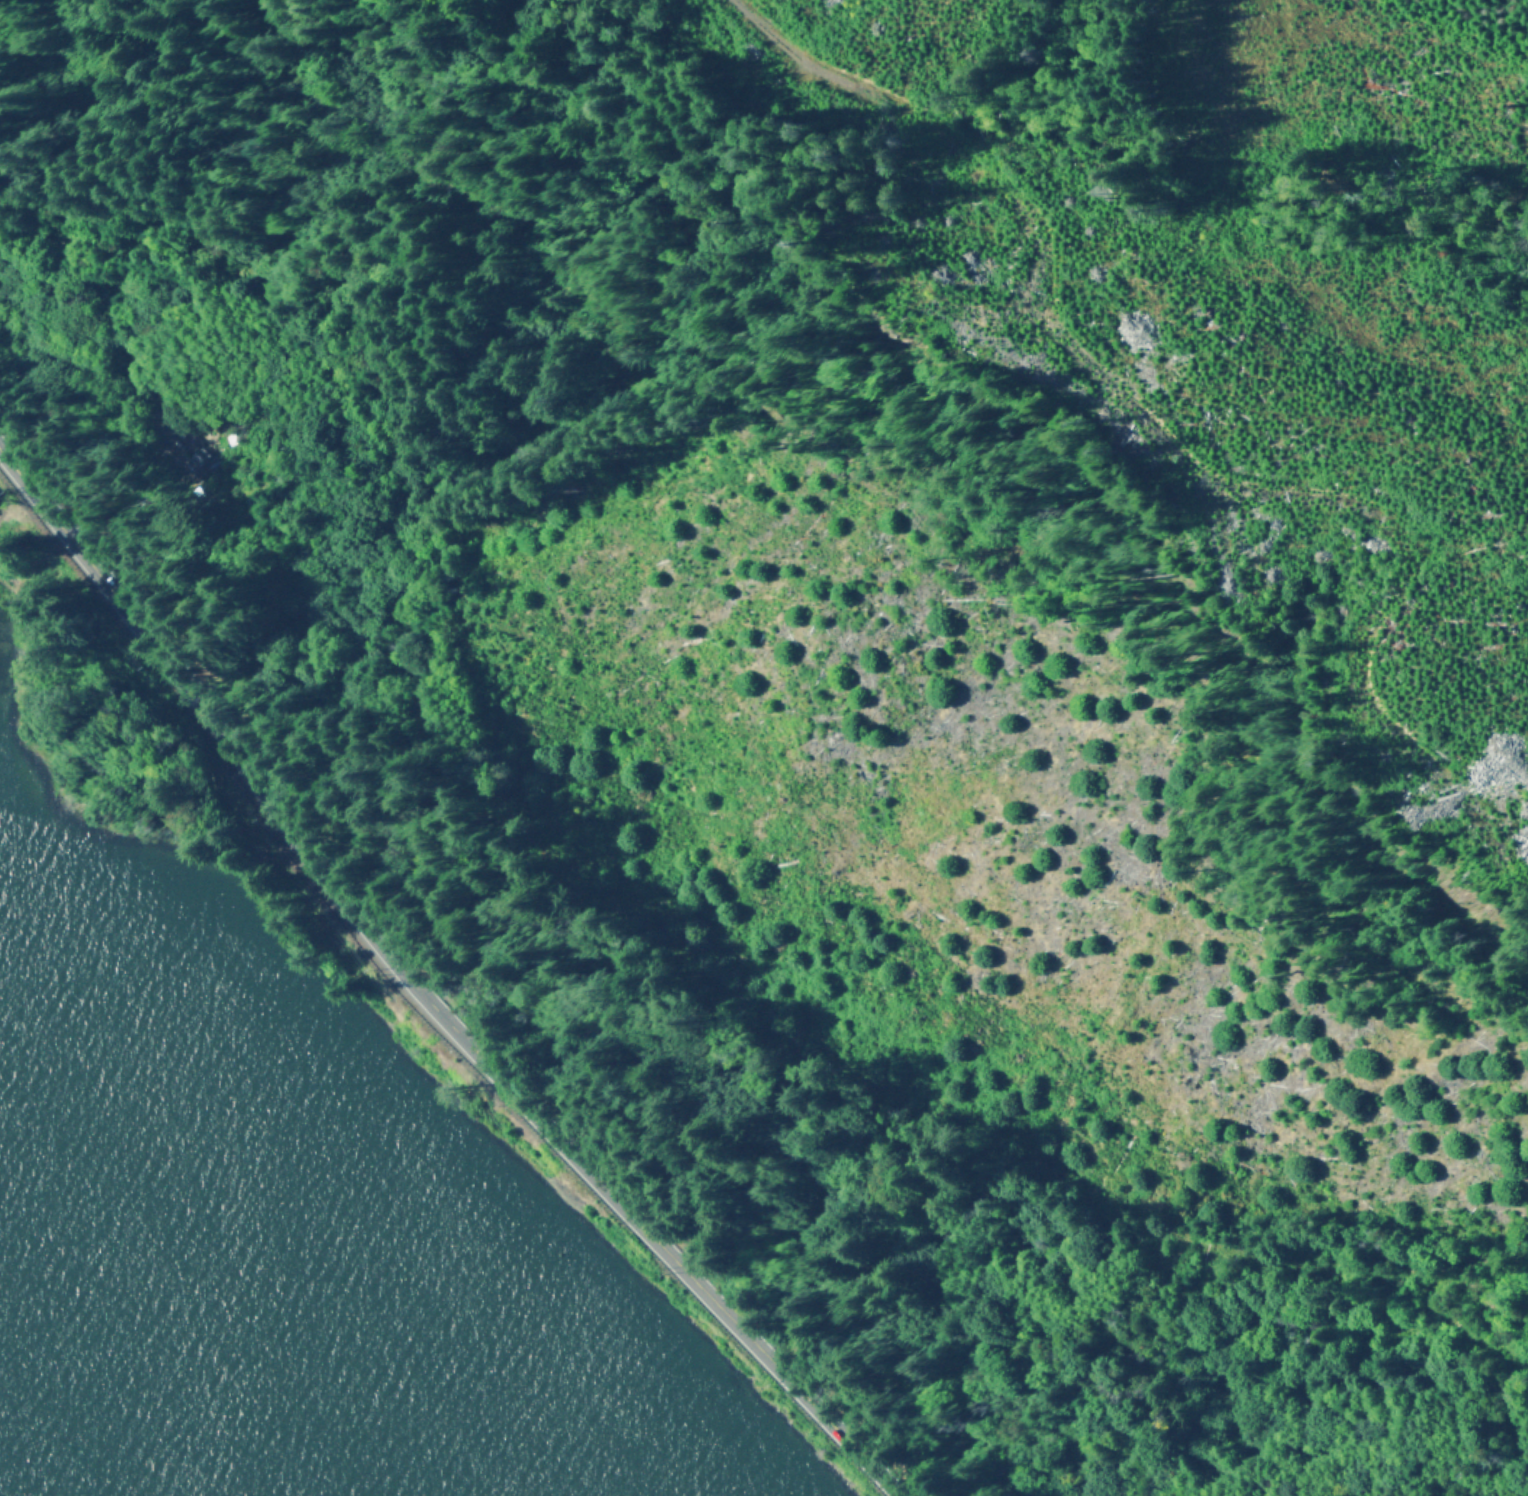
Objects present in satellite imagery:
road: (420, 1003)

